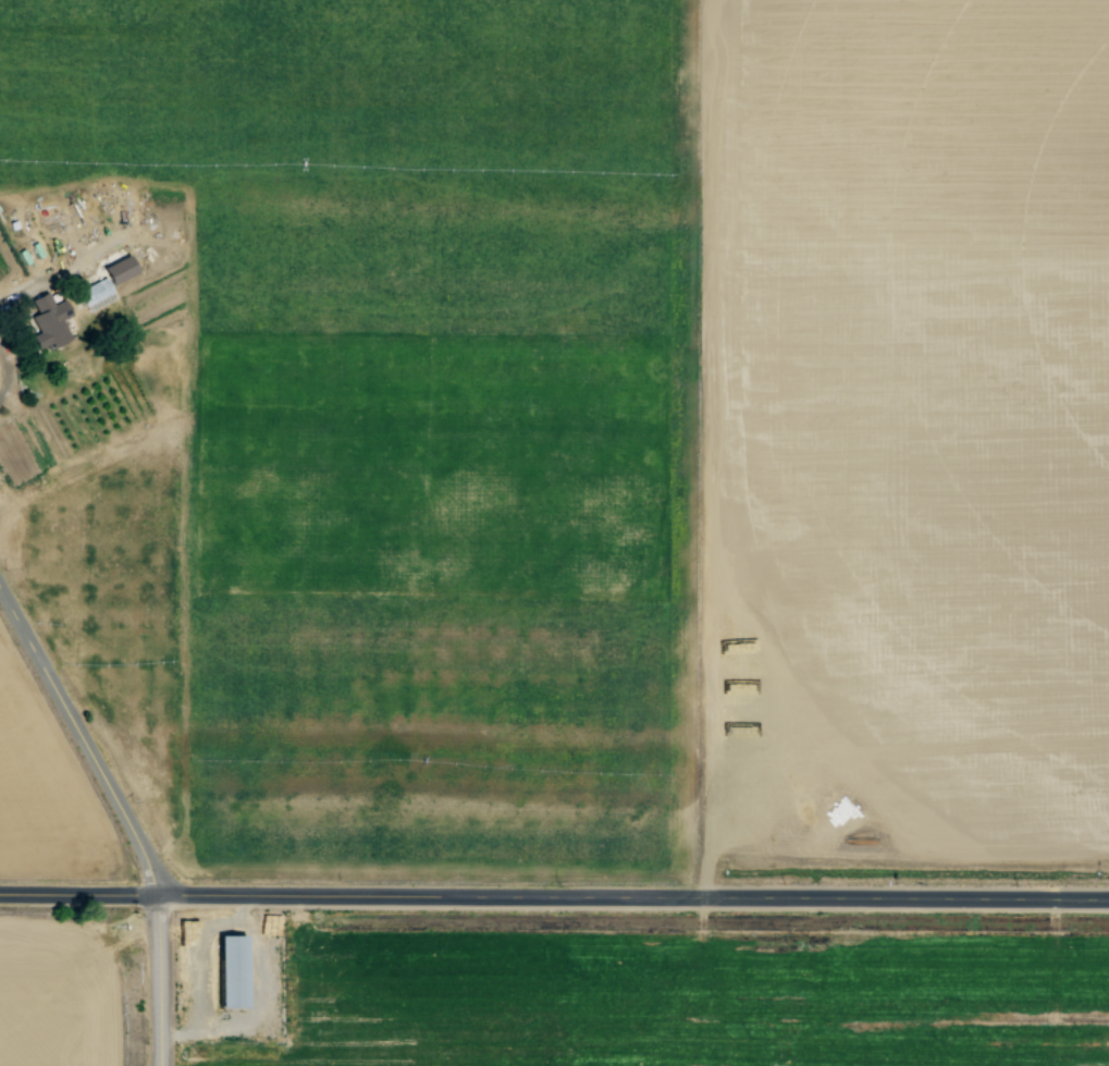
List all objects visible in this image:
building: (121, 269)
building: (97, 294)
building: (50, 321)
road: (83, 743)
road: (554, 899)
building: (233, 972)
road: (152, 982)

